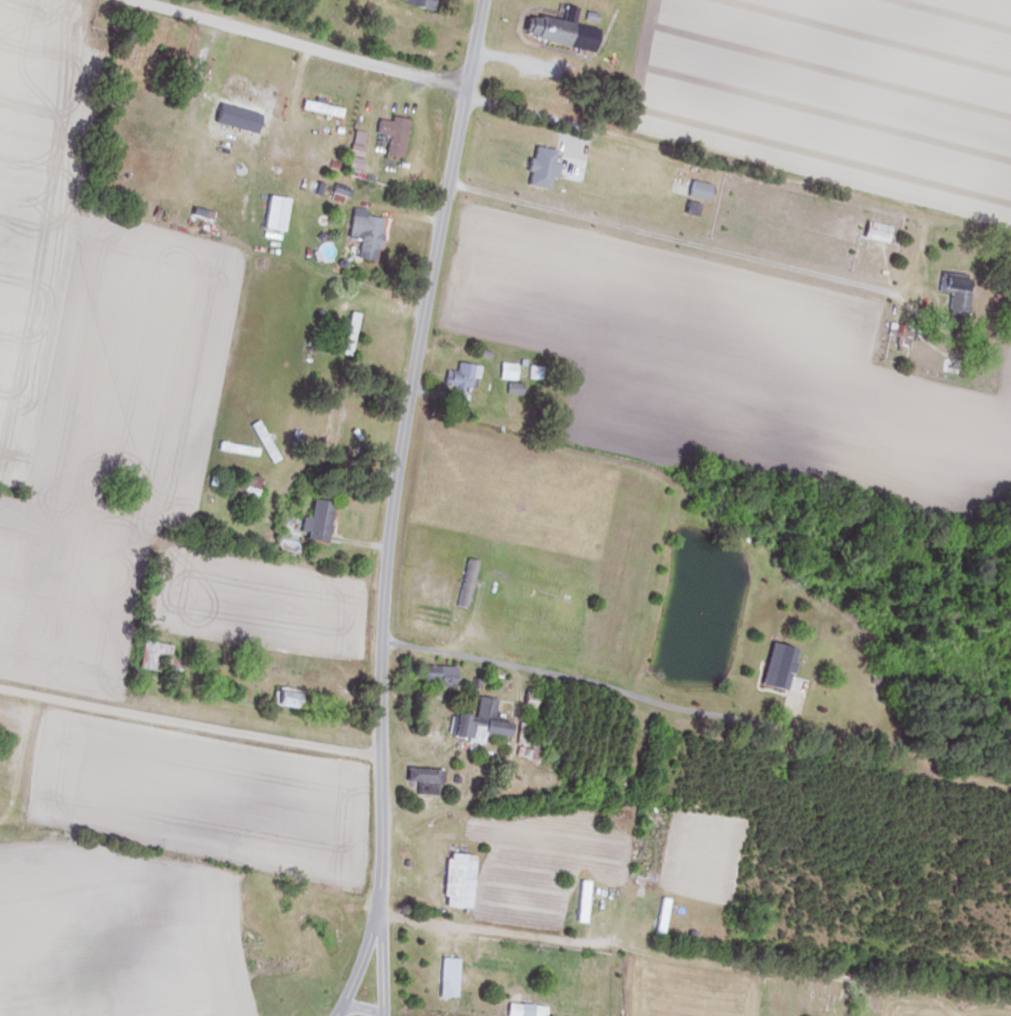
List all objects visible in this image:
building: (415, 4)
building: (557, 30)
road: (296, 45)
building: (247, 92)
building: (319, 109)
road: (517, 110)
building: (390, 135)
building: (537, 169)
building: (696, 190)
building: (336, 193)
building: (272, 213)
building: (874, 231)
building: (363, 235)
road: (670, 240)
building: (953, 293)
building: (348, 333)
building: (505, 370)
building: (460, 381)
building: (513, 388)
building: (331, 423)
building: (249, 486)
road: (394, 508)
building: (315, 521)
building: (464, 583)
building: (156, 659)
building: (798, 673)
building: (437, 675)
road: (638, 695)
building: (285, 698)
road: (190, 722)
building: (476, 724)
building: (529, 742)
building: (424, 779)
building: (653, 807)
road: (191, 840)
building: (639, 854)
building: (455, 881)
building: (580, 902)
building: (659, 916)
road: (516, 933)
road: (380, 963)
building: (280, 968)
building: (446, 978)
building: (522, 1010)

